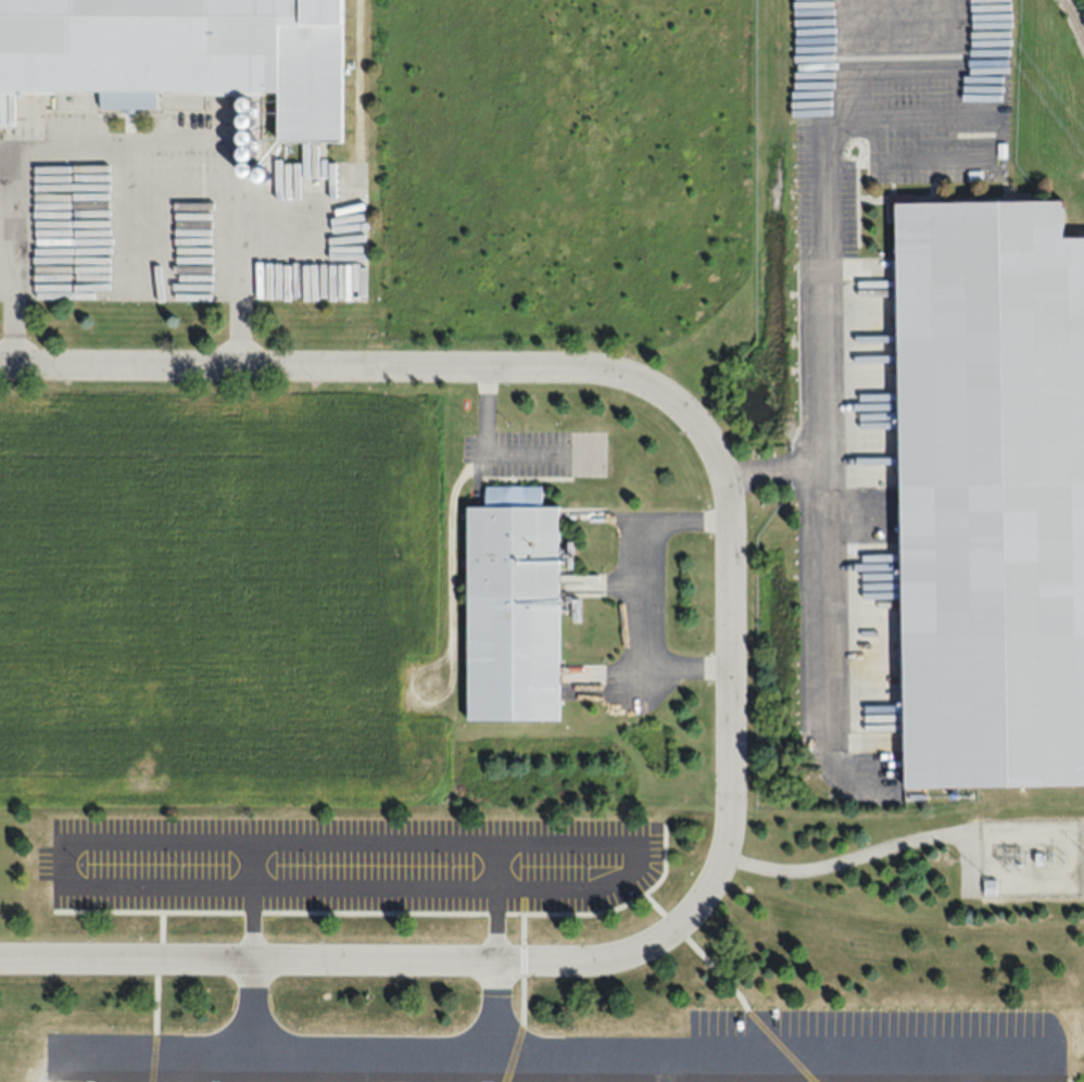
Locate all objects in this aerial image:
railway: (1076, 11)
railway: (1073, 23)
building: (139, 51)
road: (130, 146)
road: (825, 252)
road: (471, 377)
road: (506, 452)
building: (990, 490)
road: (821, 536)
building: (516, 551)
road: (641, 594)
road: (852, 856)
power substation: (1030, 857)
road: (375, 885)
building: (991, 888)
road: (483, 964)
road: (131, 1042)
road: (376, 1054)

